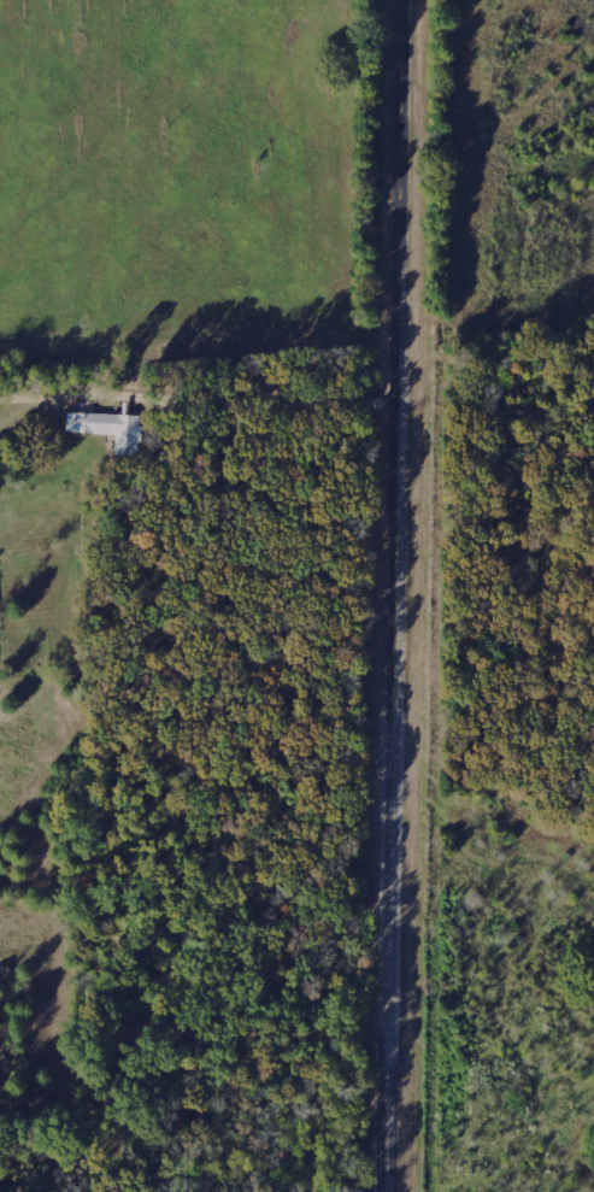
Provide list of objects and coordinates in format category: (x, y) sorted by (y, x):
road: (241, 399)
road: (401, 595)

